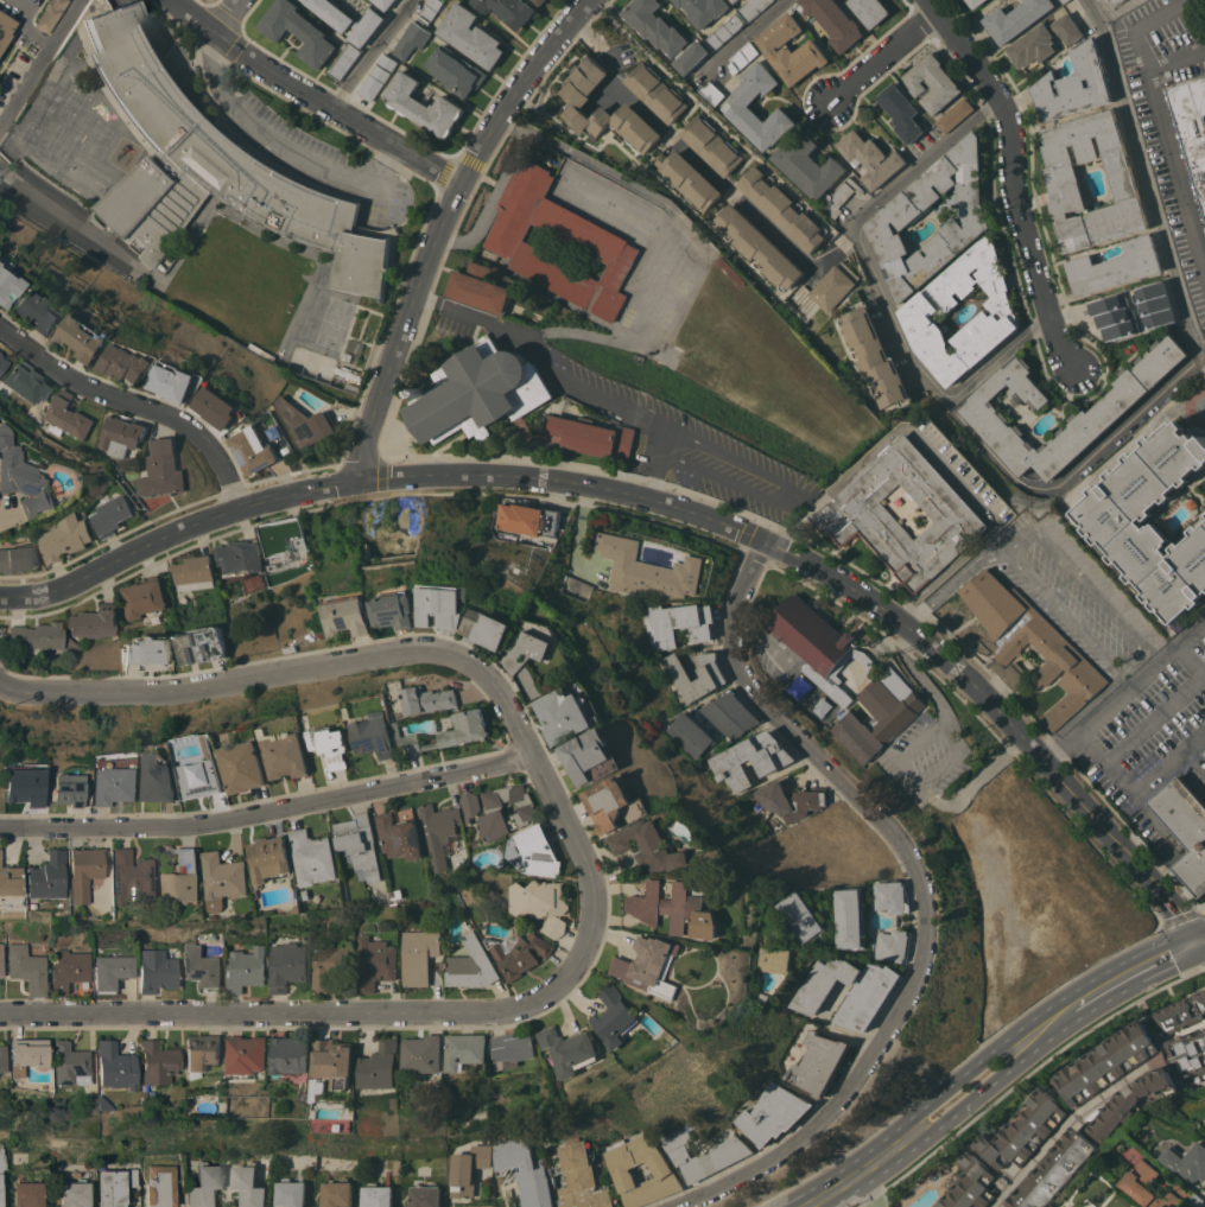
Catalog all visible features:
building: (735, 0)
building: (1098, 0)
building: (539, 1)
building: (1064, 1)
building: (1117, 1)
building: (975, 2)
building: (385, 4)
building: (753, 8)
building: (430, 9)
building: (508, 9)
building: (703, 9)
building: (870, 9)
building: (50, 14)
road: (224, 17)
building: (1015, 18)
building: (348, 19)
building: (833, 21)
building: (5, 30)
building: (299, 31)
building: (724, 31)
building: (664, 33)
road: (749, 33)
building: (471, 36)
building: (412, 39)
building: (1044, 40)
building: (789, 49)
road: (374, 53)
road: (1174, 56)
building: (743, 57)
road: (884, 57)
building: (344, 61)
road: (40, 65)
building: (456, 71)
building: (379, 76)
building: (932, 82)
building: (1074, 84)
building: (657, 91)
building: (712, 93)
road: (313, 96)
building: (737, 104)
building: (424, 106)
building: (603, 108)
road: (505, 109)
building: (901, 112)
building: (955, 114)
building: (1196, 116)
road: (1159, 121)
building: (712, 145)
road: (281, 150)
road: (585, 158)
building: (869, 158)
building: (807, 164)
building: (213, 165)
road: (706, 170)
road: (1147, 173)
road: (1011, 177)
building: (689, 179)
building: (1064, 183)
road: (493, 197)
building: (841, 197)
building: (784, 208)
road: (68, 217)
building: (894, 218)
road: (861, 231)
building: (596, 241)
building: (757, 246)
road: (425, 265)
building: (1115, 266)
building: (731, 269)
building: (8, 284)
building: (833, 285)
building: (477, 287)
road: (425, 300)
building: (1156, 304)
building: (920, 310)
building: (36, 313)
building: (1112, 316)
building: (82, 337)
road: (1201, 351)
building: (875, 355)
building: (347, 356)
building: (127, 358)
road: (998, 358)
building: (2, 363)
road: (572, 377)
building: (173, 381)
building: (27, 382)
building: (350, 387)
road: (383, 388)
building: (480, 392)
road: (137, 402)
building: (216, 406)
building: (1110, 407)
building: (614, 415)
building: (68, 417)
building: (304, 423)
building: (528, 430)
building: (123, 434)
building: (588, 436)
building: (252, 451)
building: (163, 469)
road: (1077, 469)
building: (25, 479)
road: (649, 487)
road: (786, 494)
road: (664, 502)
building: (854, 513)
building: (112, 514)
building: (1155, 517)
building: (527, 519)
building: (508, 535)
building: (65, 538)
building: (285, 540)
building: (239, 555)
building: (19, 558)
building: (647, 568)
building: (192, 572)
building: (576, 587)
road: (1089, 589)
building: (142, 597)
building: (444, 605)
building: (395, 609)
road: (1061, 610)
building: (348, 615)
building: (95, 622)
building: (678, 623)
building: (490, 628)
building: (38, 635)
building: (203, 643)
building: (72, 644)
building: (148, 649)
building: (1058, 649)
building: (532, 650)
road: (1190, 661)
building: (711, 676)
building: (886, 678)
road: (1124, 688)
building: (429, 699)
building: (566, 714)
building: (729, 714)
road: (1156, 719)
building: (450, 731)
building: (373, 735)
building: (690, 735)
building: (330, 744)
building: (179, 752)
building: (285, 754)
building: (1204, 754)
building: (590, 756)
building: (750, 760)
road: (898, 761)
building: (243, 767)
building: (202, 777)
building: (154, 779)
building: (24, 786)
building: (109, 786)
road: (1140, 788)
building: (66, 789)
building: (789, 800)
building: (615, 802)
building: (470, 805)
road: (269, 812)
building: (526, 812)
building: (1185, 828)
building: (438, 832)
building: (398, 837)
building: (359, 843)
building: (651, 845)
building: (535, 851)
road: (584, 856)
building: (267, 857)
building: (312, 857)
building: (83, 871)
building: (46, 876)
building: (131, 876)
building: (223, 878)
building: (182, 879)
building: (9, 882)
road: (927, 890)
building: (395, 892)
building: (892, 896)
building: (540, 902)
building: (677, 908)
building: (82, 913)
building: (804, 915)
building: (851, 916)
road: (1181, 916)
road: (1196, 926)
traffic signals: (1187, 929)
road: (1192, 941)
building: (894, 944)
road: (1200, 951)
building: (521, 953)
traffic signals: (1197, 953)
building: (1, 954)
building: (418, 955)
building: (781, 959)
building: (374, 961)
building: (328, 964)
building: (470, 964)
building: (287, 965)
building: (654, 965)
building: (201, 966)
building: (27, 968)
building: (157, 968)
building: (246, 968)
building: (68, 970)
building: (112, 972)
road: (1134, 983)
building: (870, 995)
building: (768, 996)
building: (1181, 1012)
building: (615, 1015)
building: (513, 1048)
building: (465, 1049)
building: (571, 1049)
building: (201, 1053)
building: (423, 1053)
building: (26, 1054)
building: (291, 1054)
building: (1188, 1054)
building: (247, 1055)
building: (2, 1057)
building: (335, 1060)
road: (976, 1060)
building: (820, 1062)
building: (1109, 1062)
building: (69, 1063)
building: (156, 1063)
building: (381, 1066)
building: (114, 1067)
road: (1023, 1075)
building: (101, 1104)
building: (1133, 1104)
building: (85, 1105)
building: (775, 1113)
road: (950, 1114)
building: (1198, 1124)
building: (1026, 1130)
road: (1064, 1130)
building: (705, 1155)
building: (1187, 1161)
building: (310, 1164)
building: (397, 1167)
building: (1, 1169)
building: (468, 1169)
building: (661, 1169)
building: (525, 1170)
building: (1057, 1170)
building: (582, 1177)
building: (1139, 1182)
building: (203, 1184)
building: (248, 1184)
road: (861, 1184)
building: (972, 1184)
building: (160, 1186)
building: (114, 1187)
building: (290, 1193)
building: (337, 1193)
building: (27, 1194)
building: (74, 1194)
building: (376, 1195)
building: (425, 1195)
building: (487, 1206)

